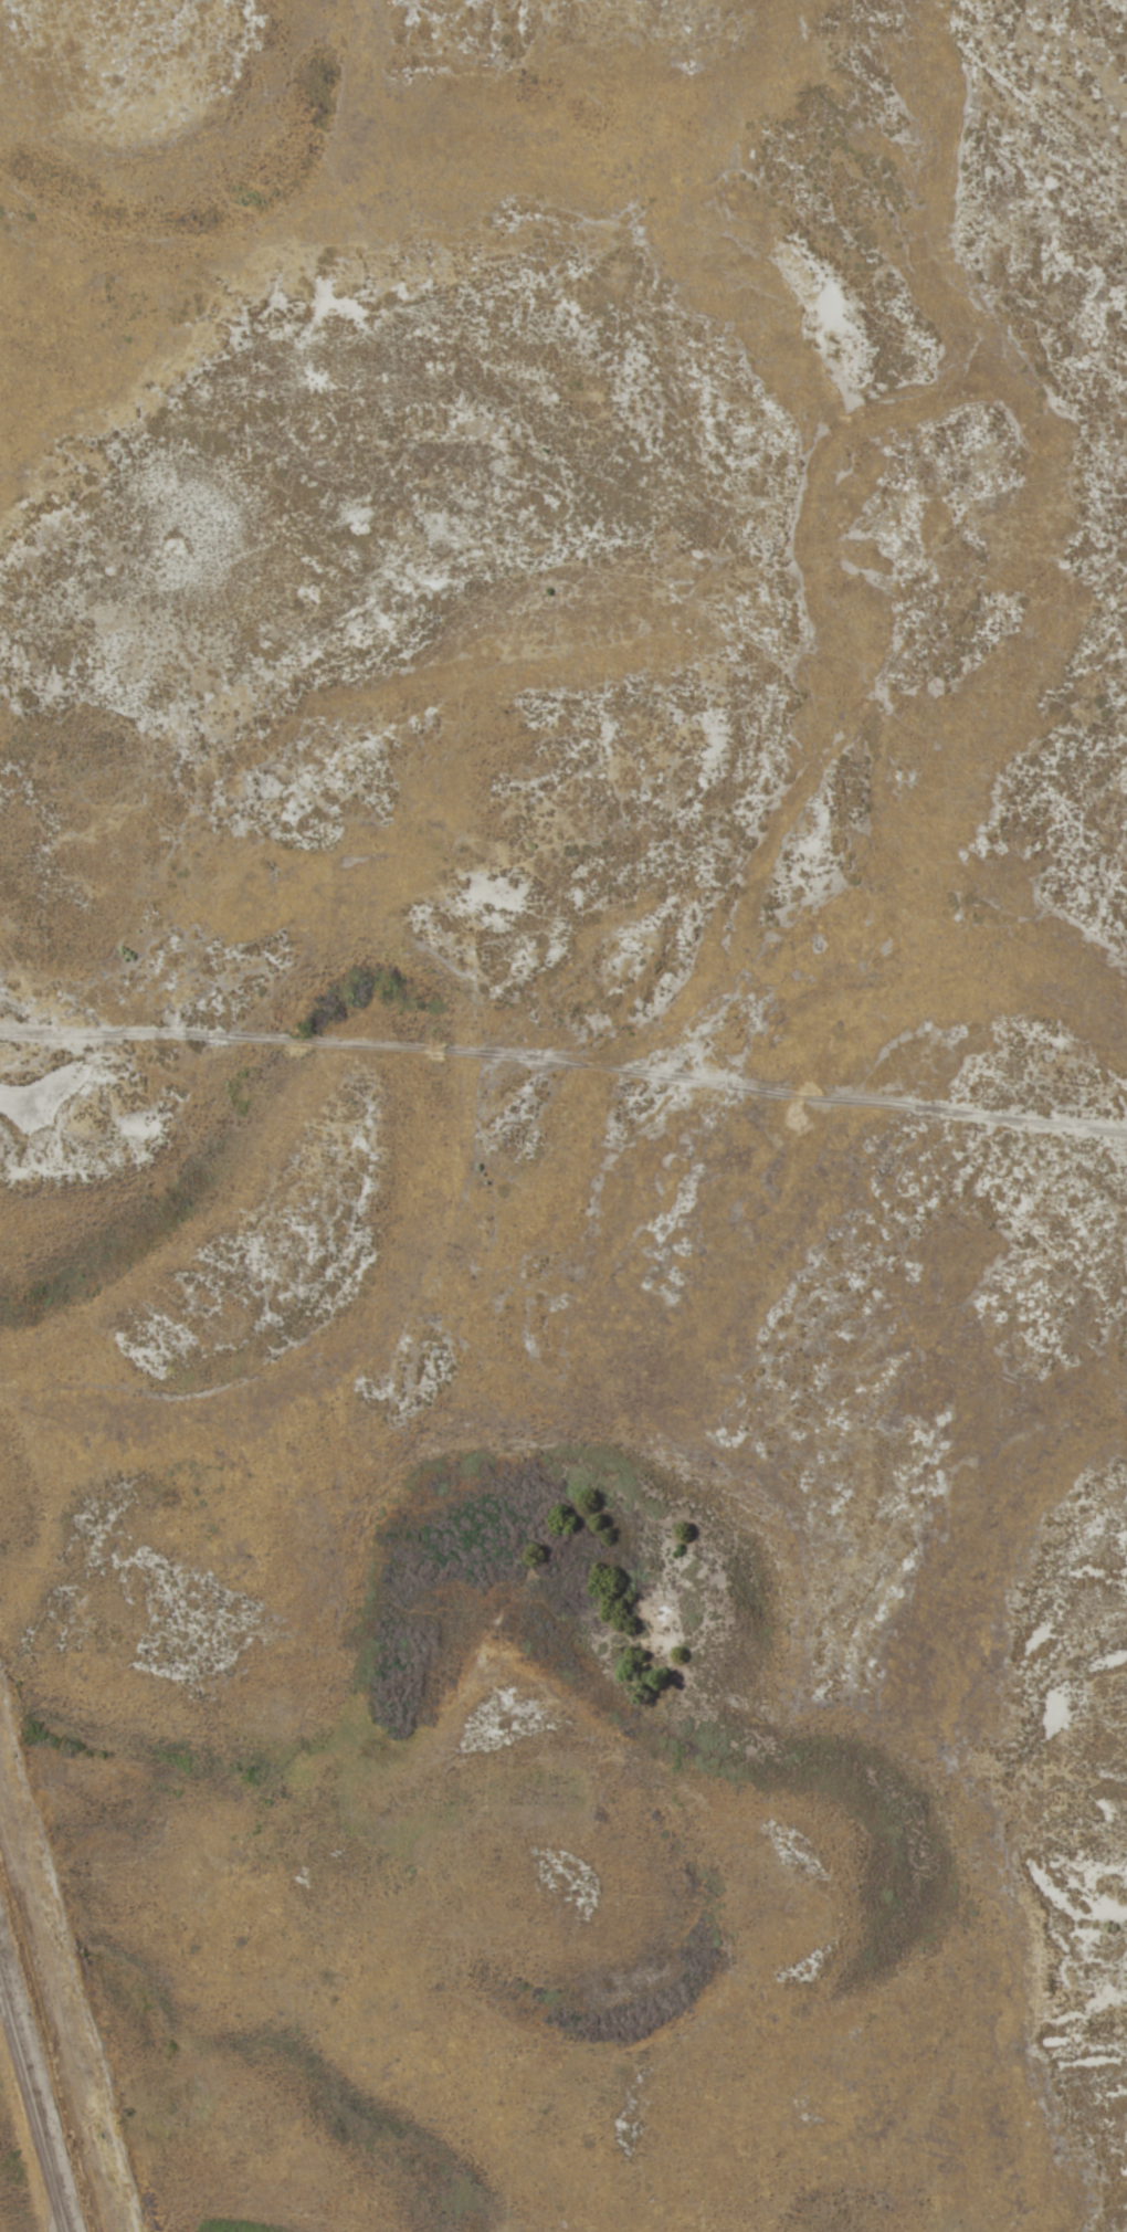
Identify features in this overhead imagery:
road: (24, 2171)

